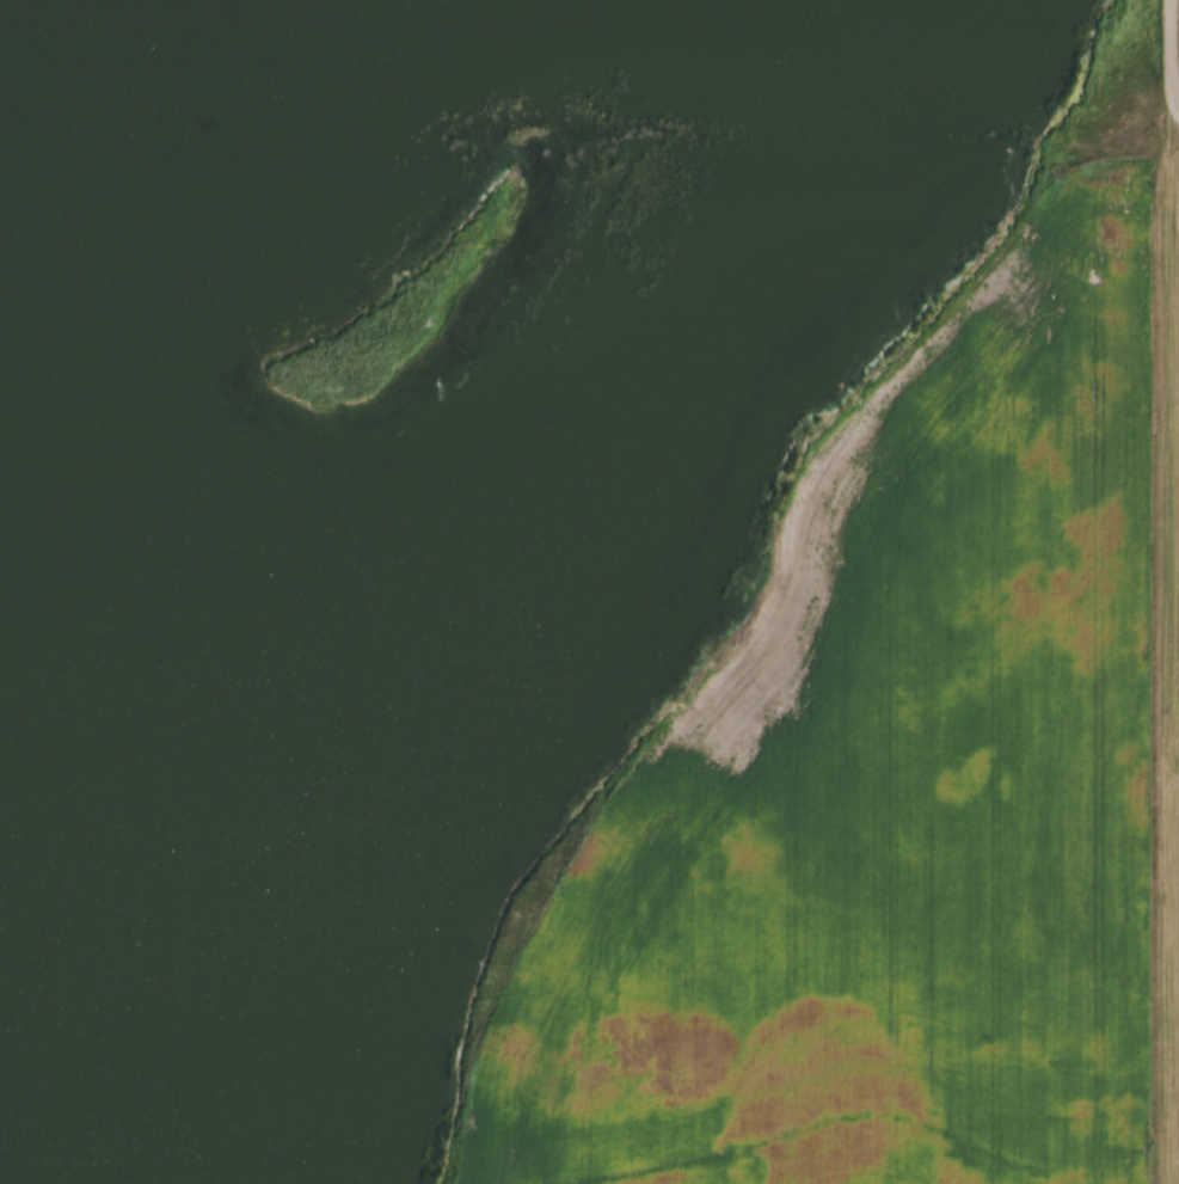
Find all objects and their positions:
road: (1174, 69)
road: (1177, 139)

